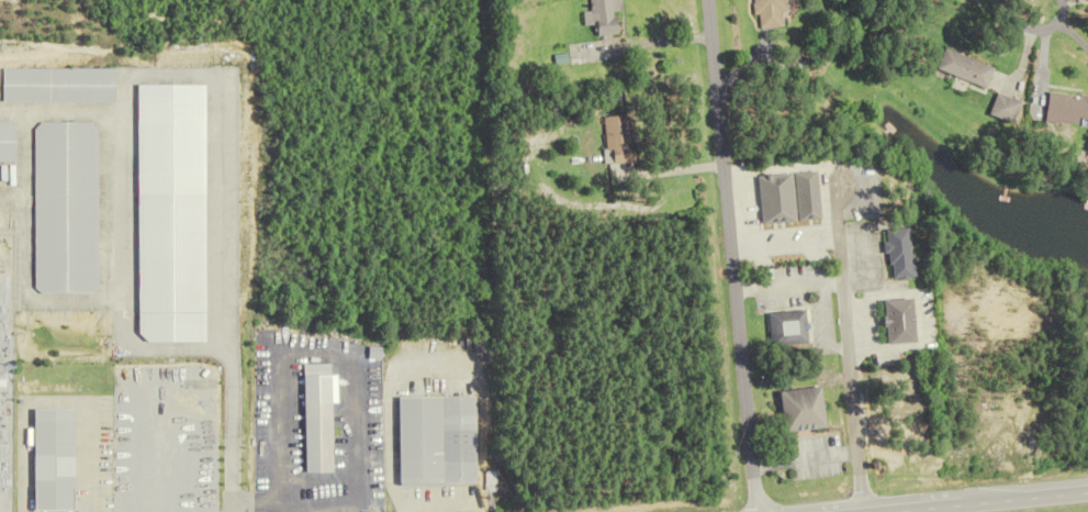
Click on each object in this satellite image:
building: (770, 12)
building: (605, 16)
road: (1030, 29)
road: (1070, 40)
building: (955, 70)
building: (58, 85)
building: (990, 110)
building: (1057, 110)
building: (619, 138)
building: (7, 141)
building: (793, 197)
building: (66, 208)
building: (907, 253)
road: (730, 255)
road: (838, 289)
building: (907, 321)
building: (789, 329)
road: (347, 361)
building: (803, 410)
building: (323, 423)
building: (440, 439)
building: (57, 459)
road: (1002, 500)
road: (254, 503)
road: (900, 510)

